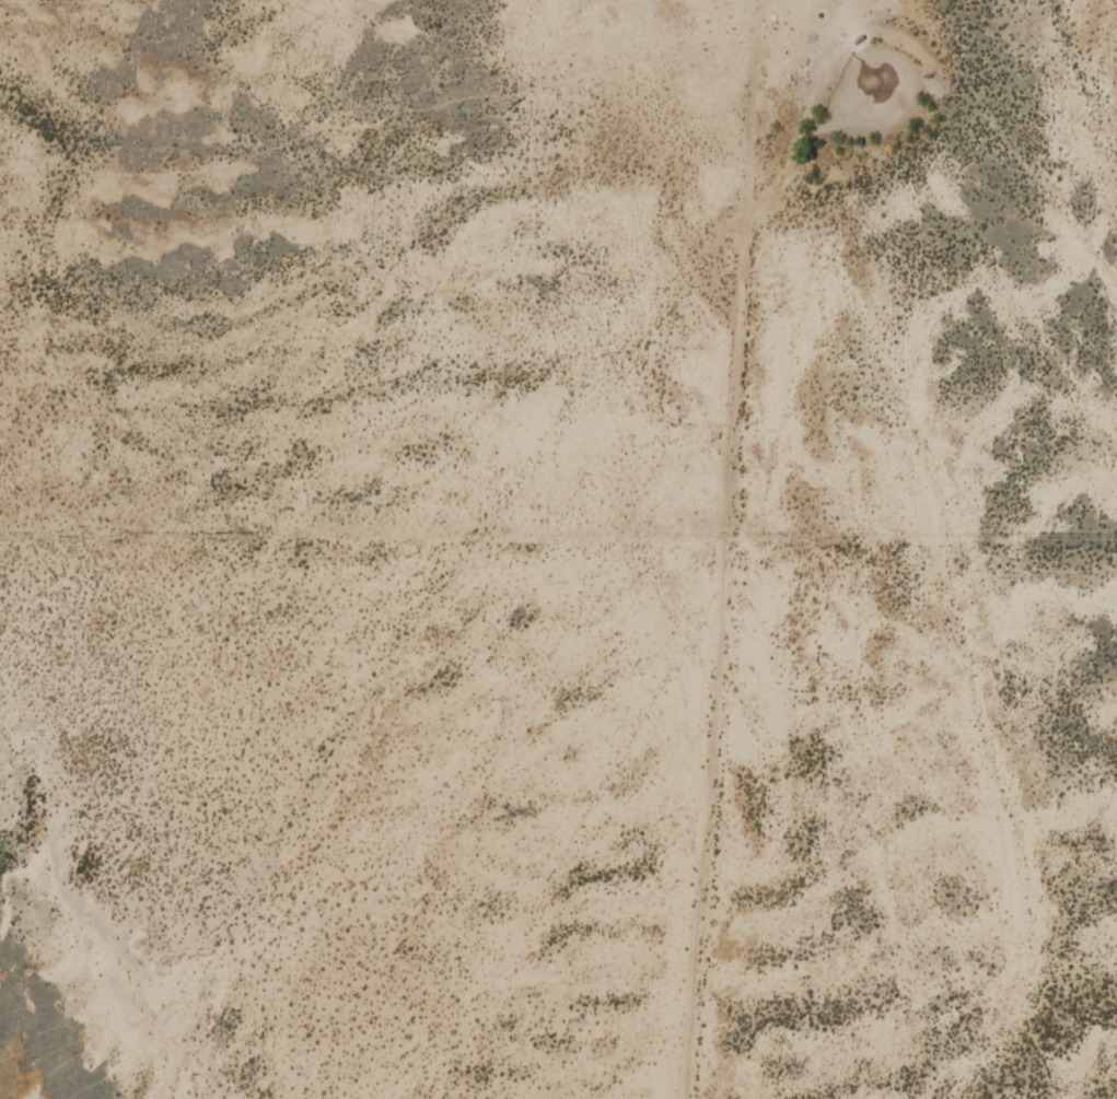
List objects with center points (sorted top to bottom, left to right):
road: (693, 547)

